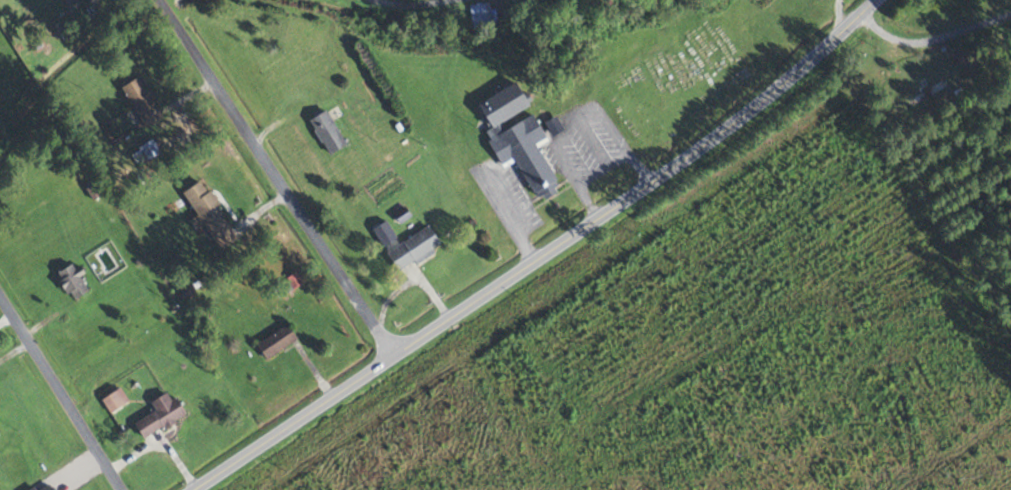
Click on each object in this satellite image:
building: (70, 1)
road: (408, 4)
building: (480, 14)
road: (839, 15)
road: (933, 37)
building: (928, 92)
building: (142, 103)
road: (583, 106)
building: (328, 132)
building: (520, 140)
road: (273, 179)
road: (574, 181)
building: (207, 208)
road: (504, 214)
building: (407, 244)
road: (541, 255)
building: (73, 282)
building: (277, 342)
road: (58, 396)
building: (161, 416)
building: (47, 488)
building: (34, 489)

